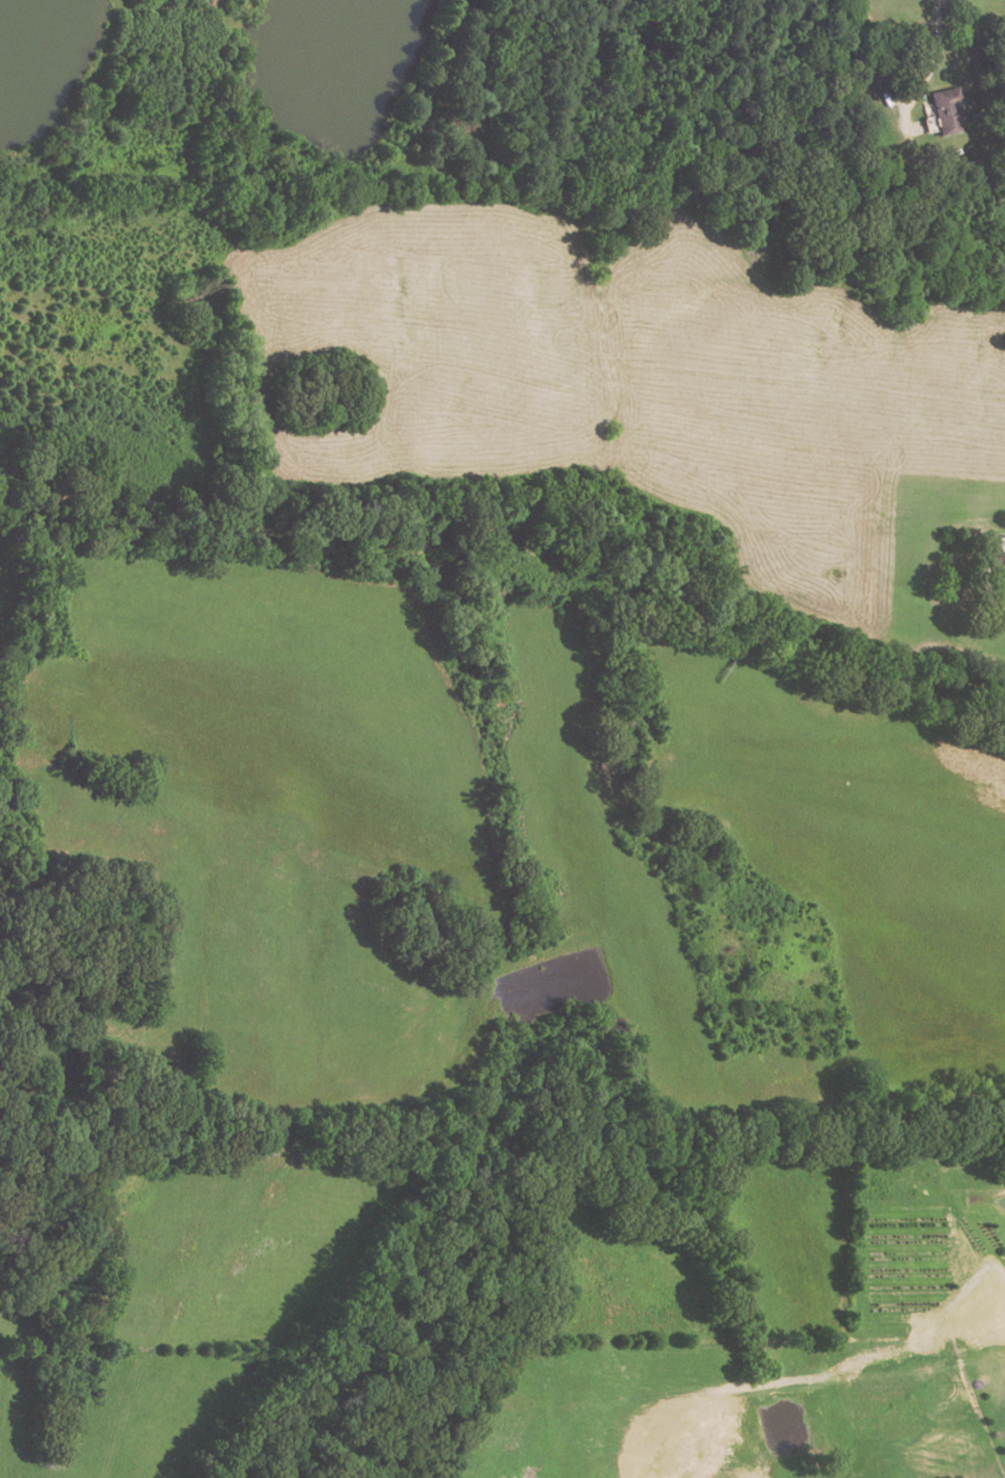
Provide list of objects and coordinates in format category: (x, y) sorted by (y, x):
road: (928, 72)
building: (876, 80)
building: (943, 112)
building: (999, 574)

